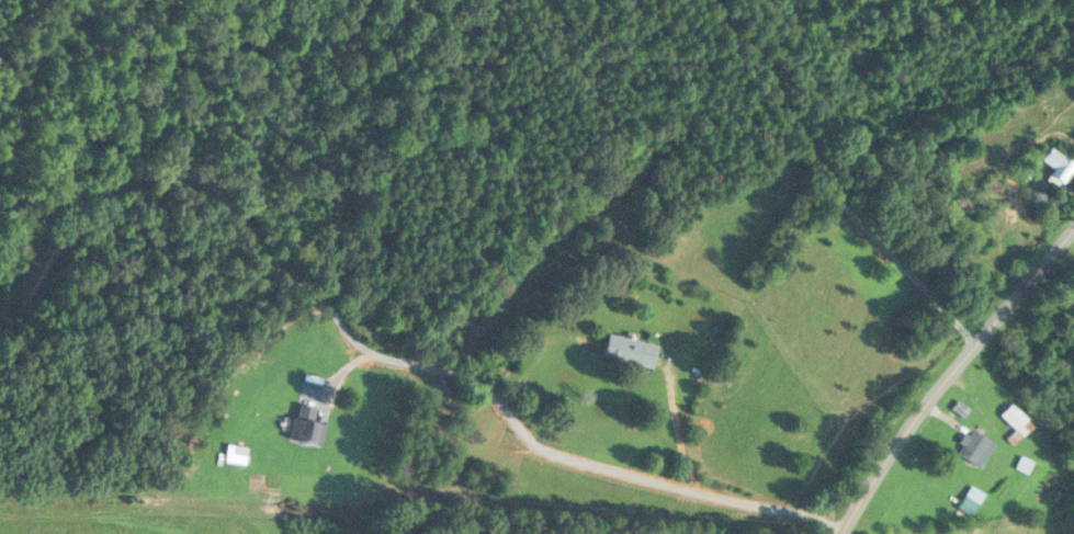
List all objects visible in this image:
building: (1056, 166)
road: (826, 183)
building: (958, 206)
building: (511, 279)
building: (630, 351)
road: (368, 352)
road: (949, 375)
building: (1015, 422)
road: (679, 425)
building: (306, 427)
building: (973, 447)

